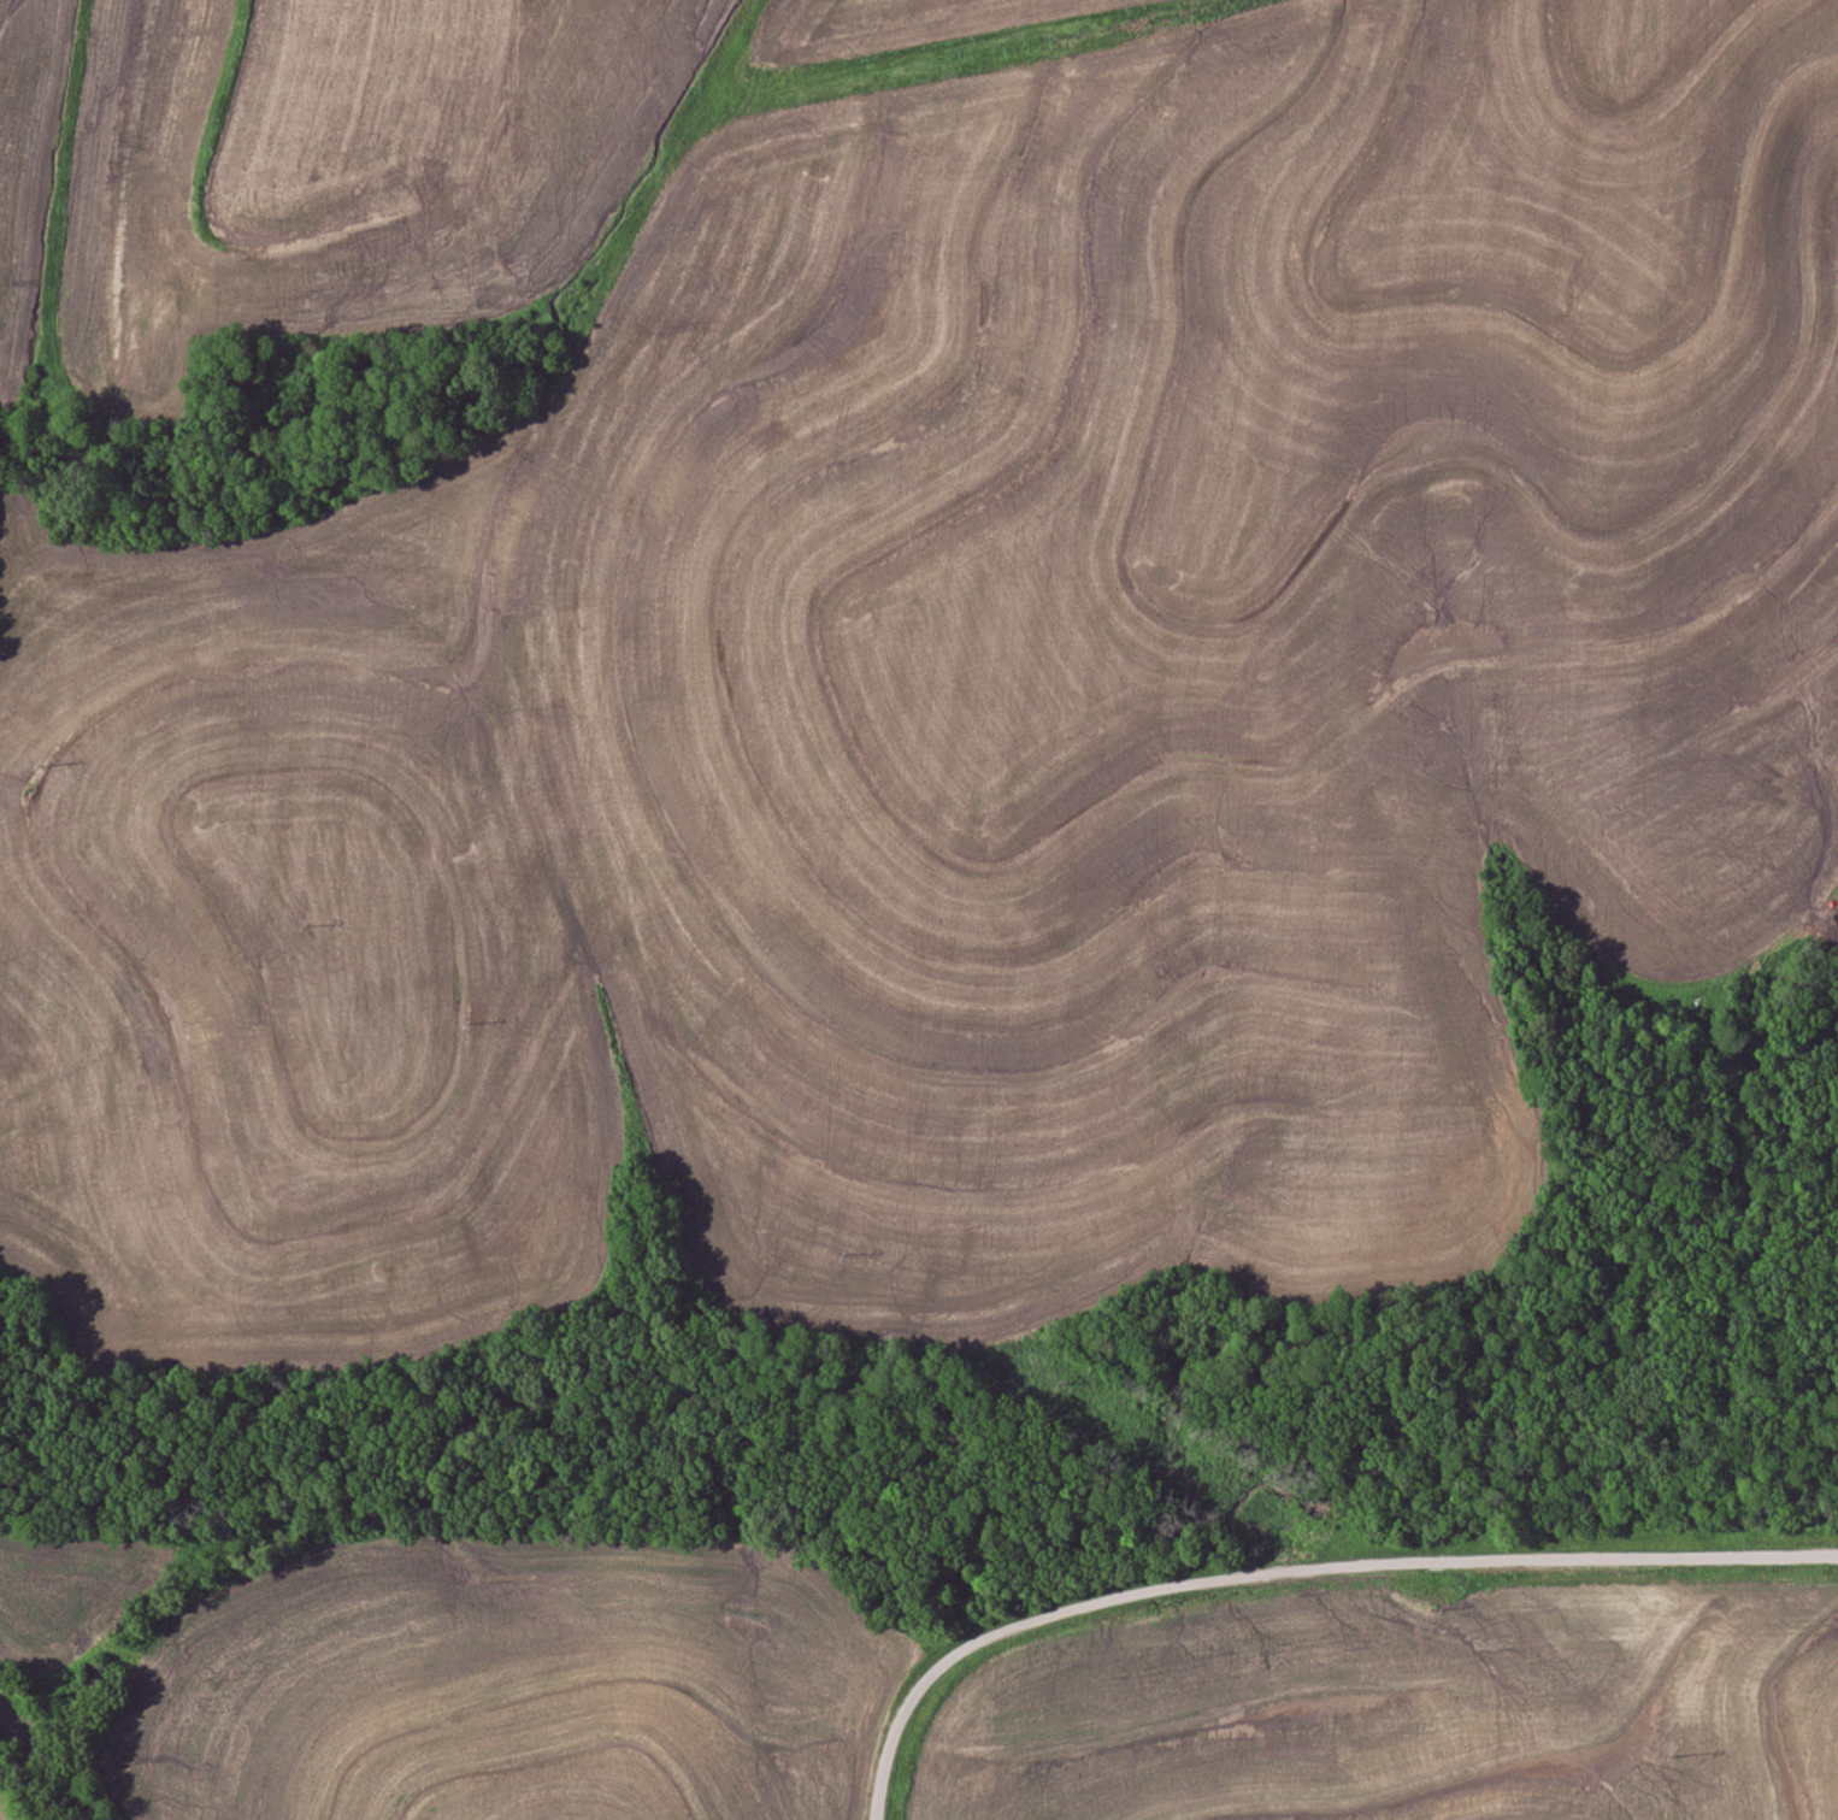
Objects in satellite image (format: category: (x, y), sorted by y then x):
road: (1294, 1569)

